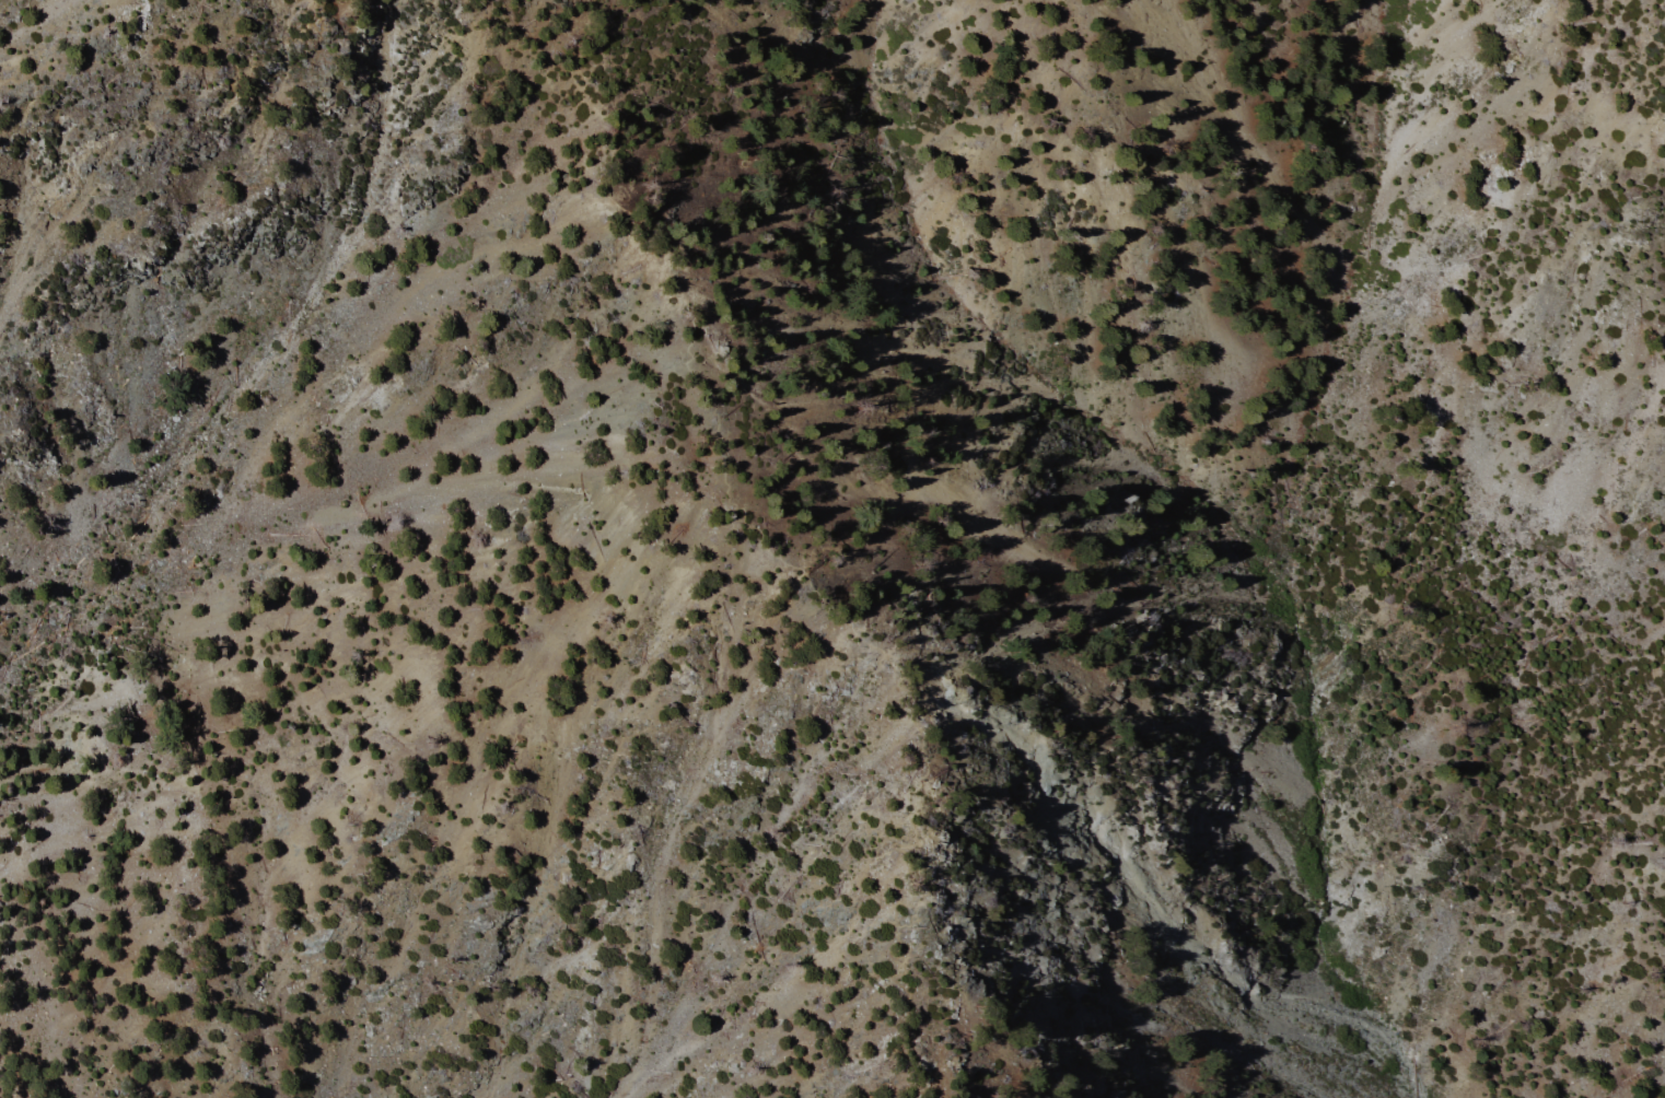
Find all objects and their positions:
road: (784, 556)
road: (8, 1083)

